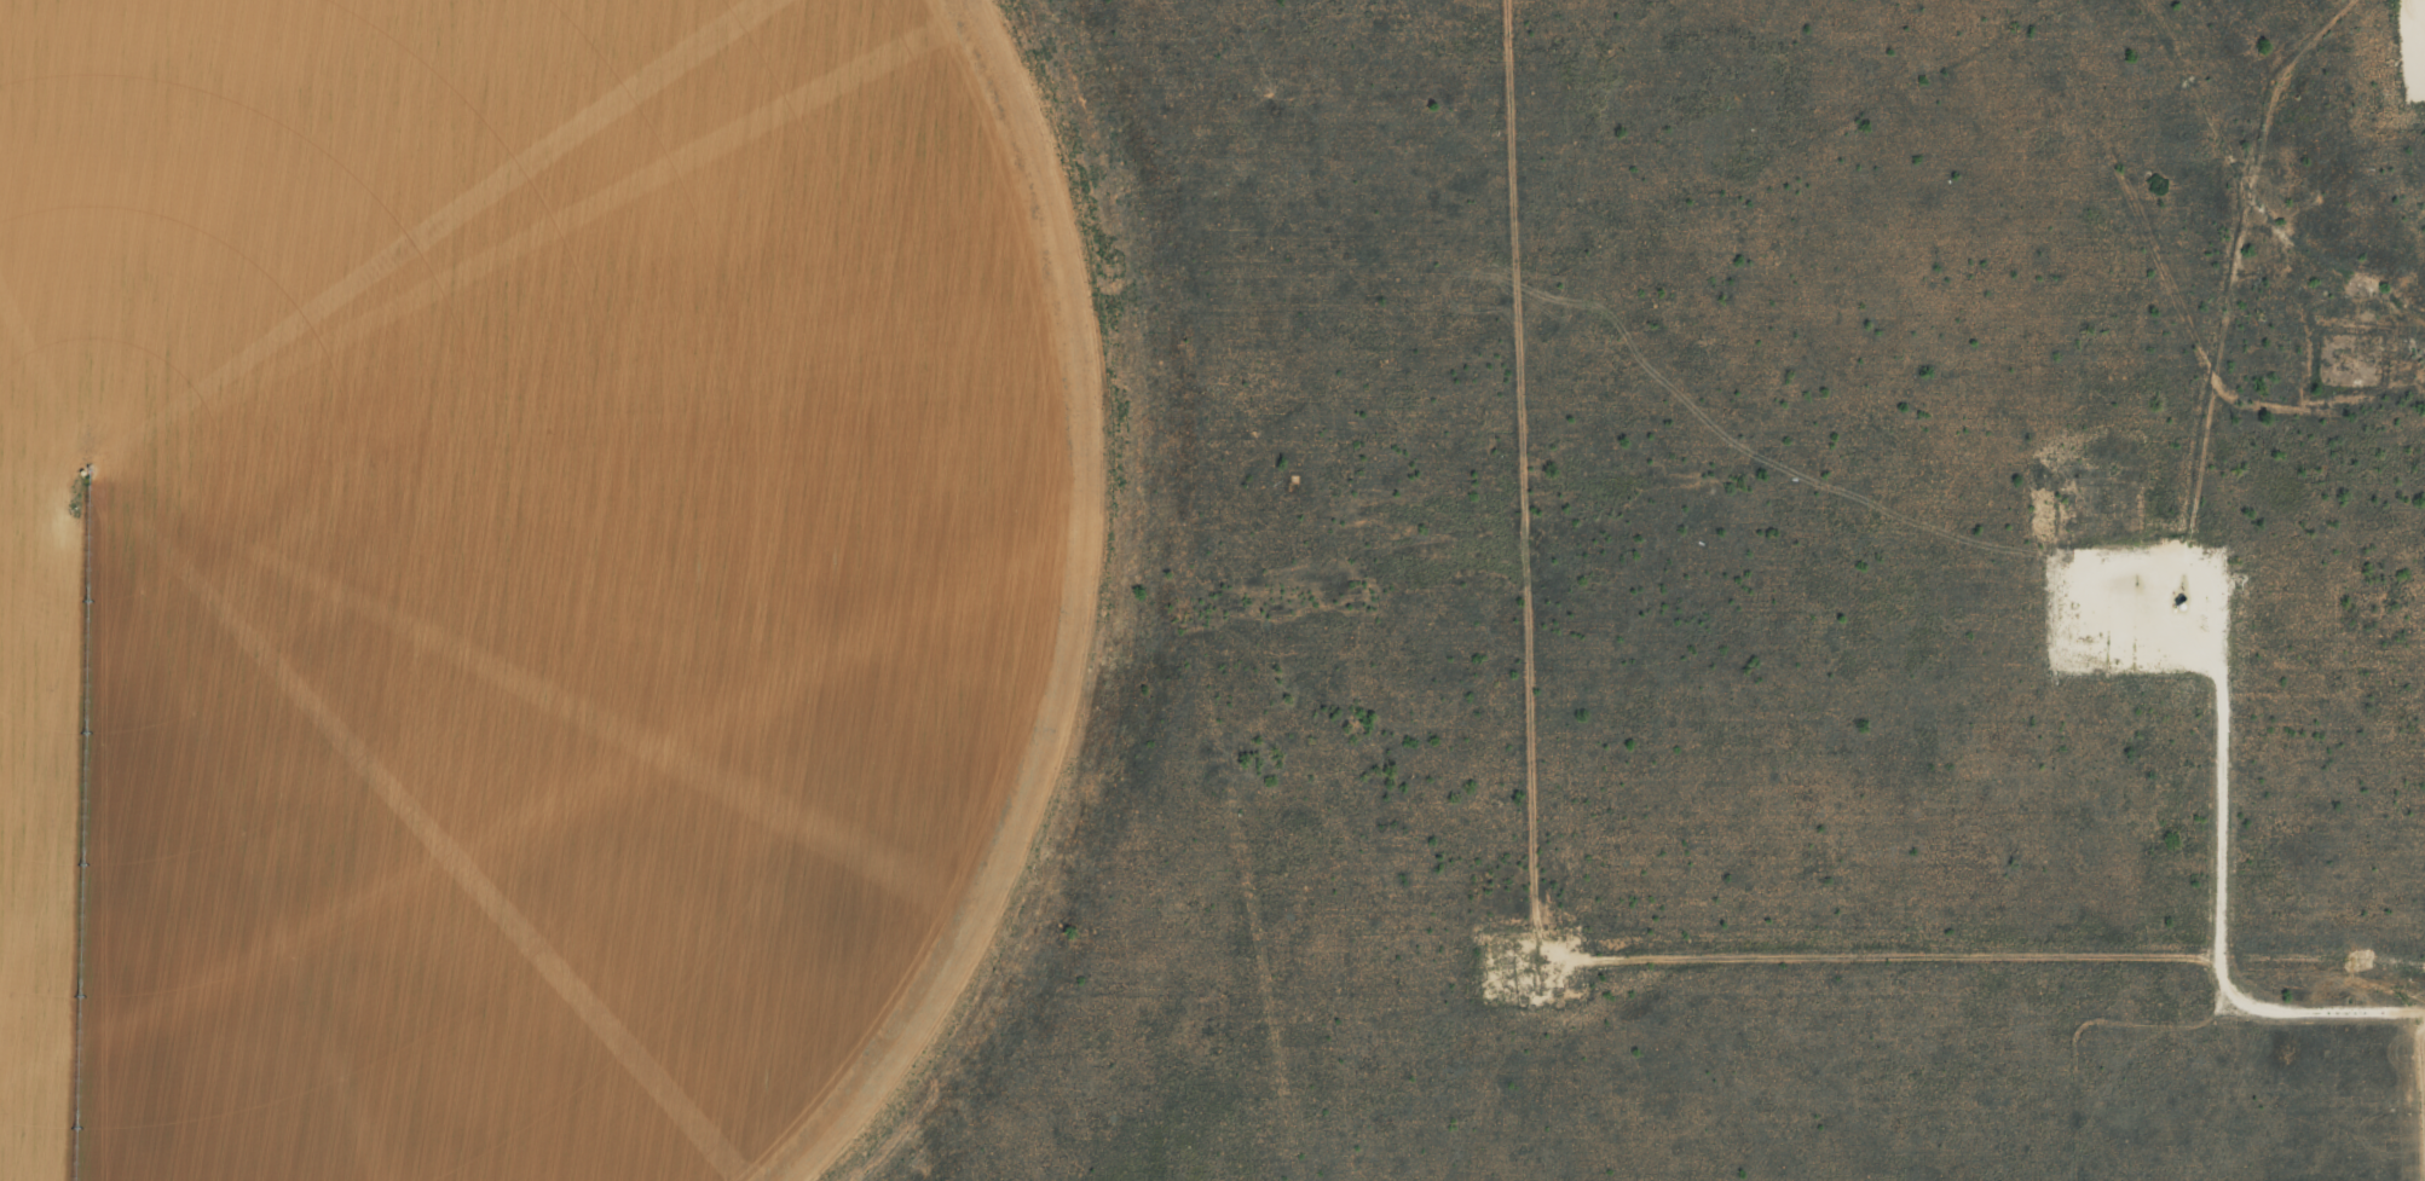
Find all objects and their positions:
road: (2414, 29)
road: (2181, 267)
road: (2210, 594)
road: (2216, 905)

